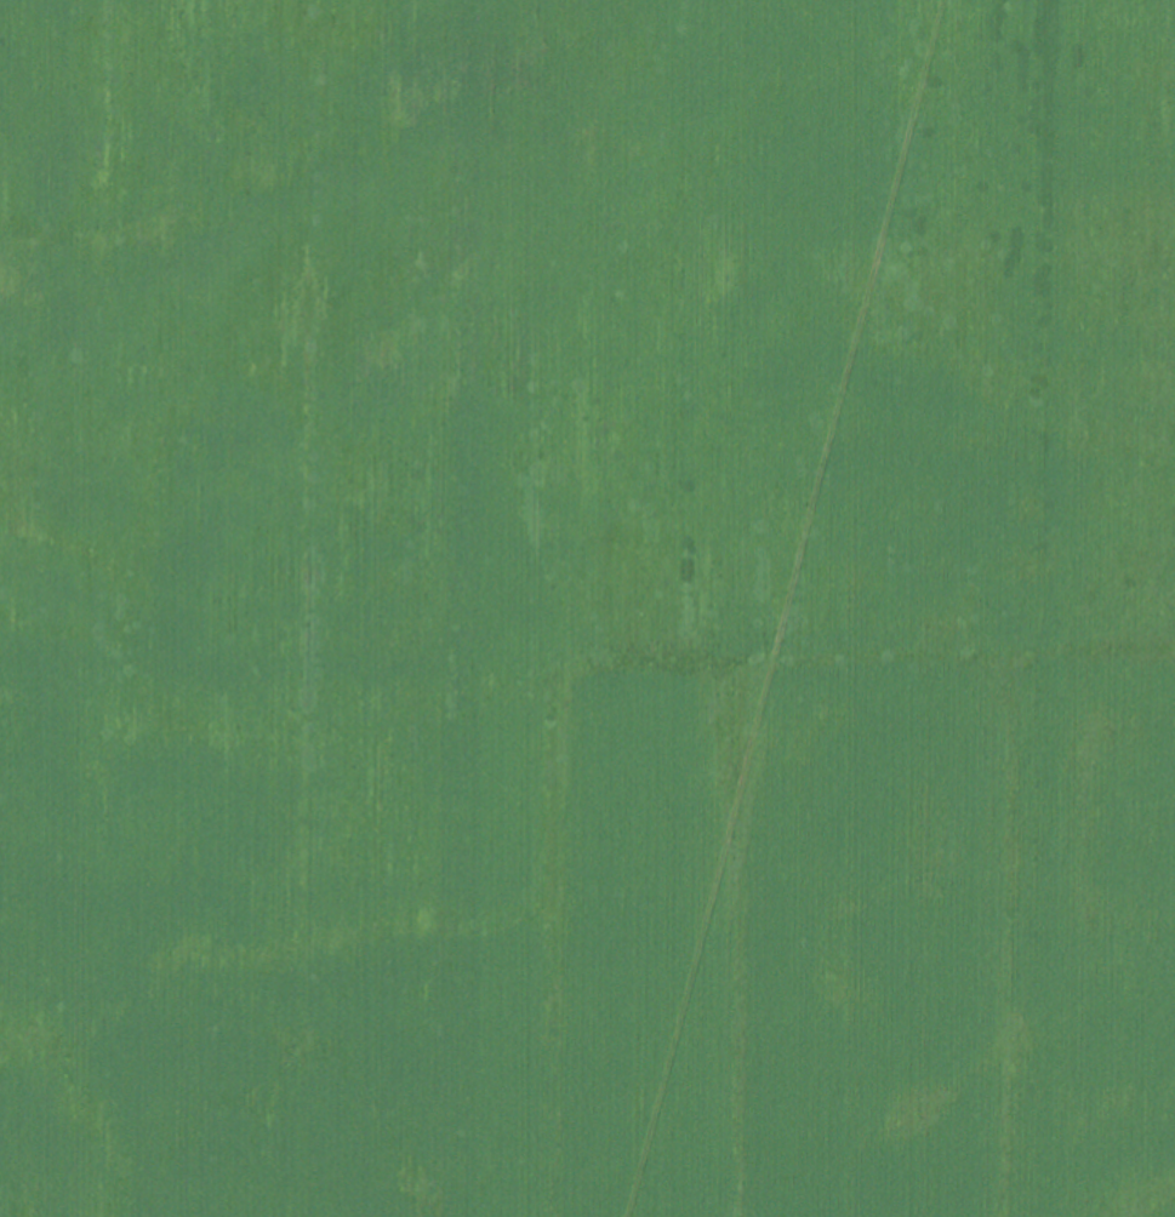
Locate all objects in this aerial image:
crop: (587, 608)

